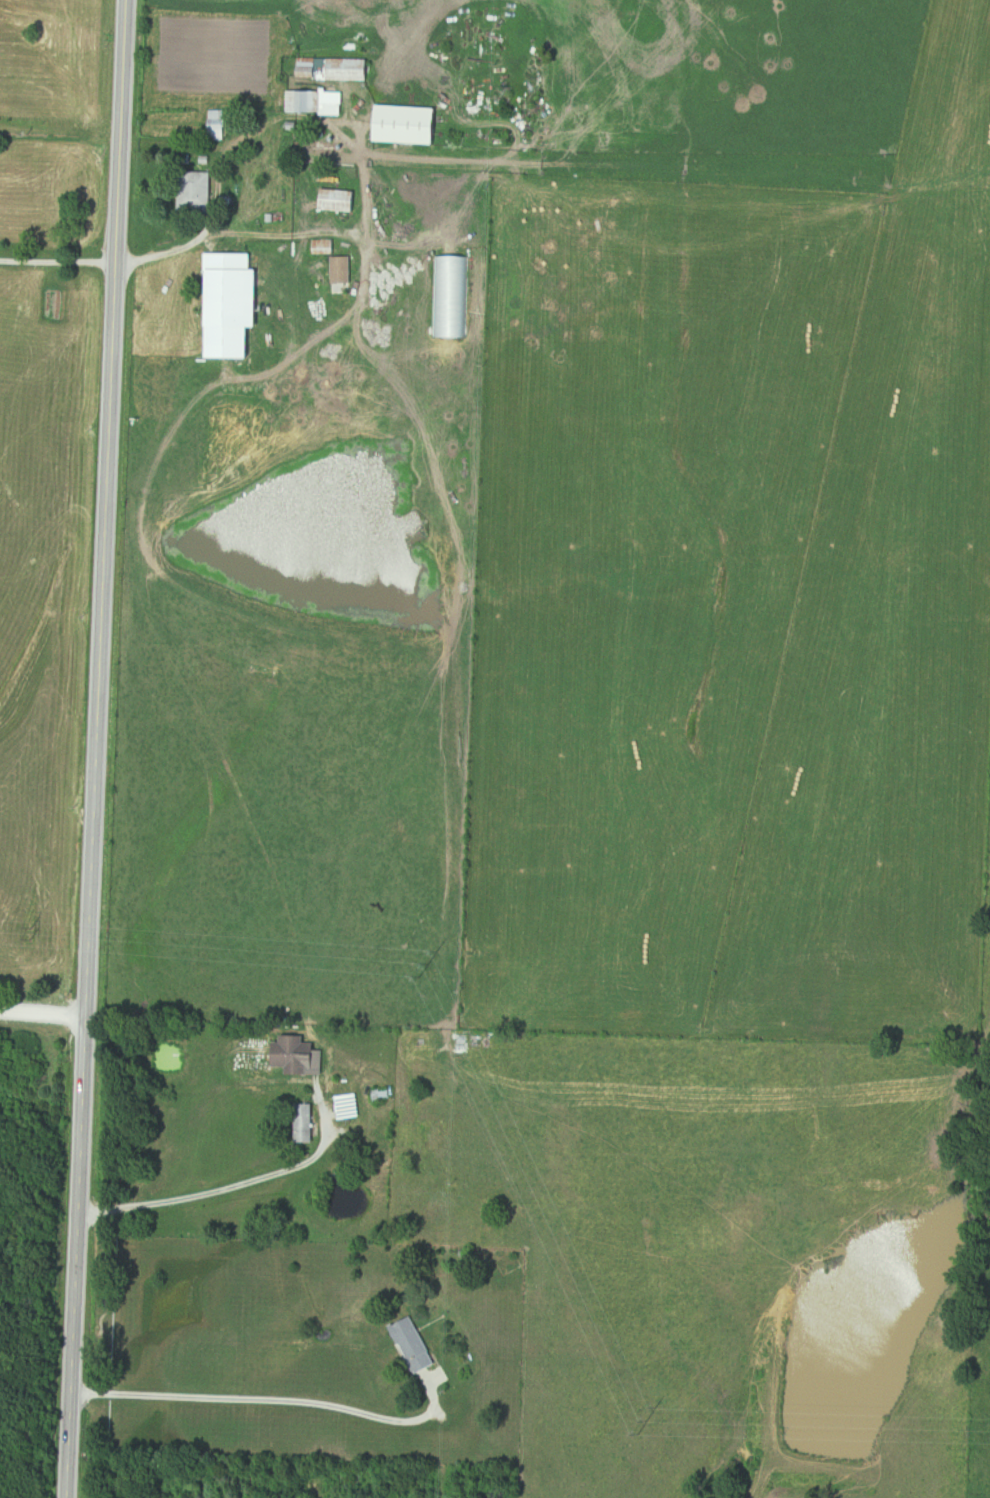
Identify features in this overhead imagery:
building: (312, 68)
building: (349, 70)
building: (316, 103)
building: (410, 125)
building: (219, 126)
building: (339, 201)
road: (256, 235)
road: (54, 263)
building: (235, 309)
road: (85, 748)
road: (38, 1015)
building: (298, 1054)
building: (307, 1123)
road: (233, 1185)
building: (417, 1345)
road: (265, 1399)

